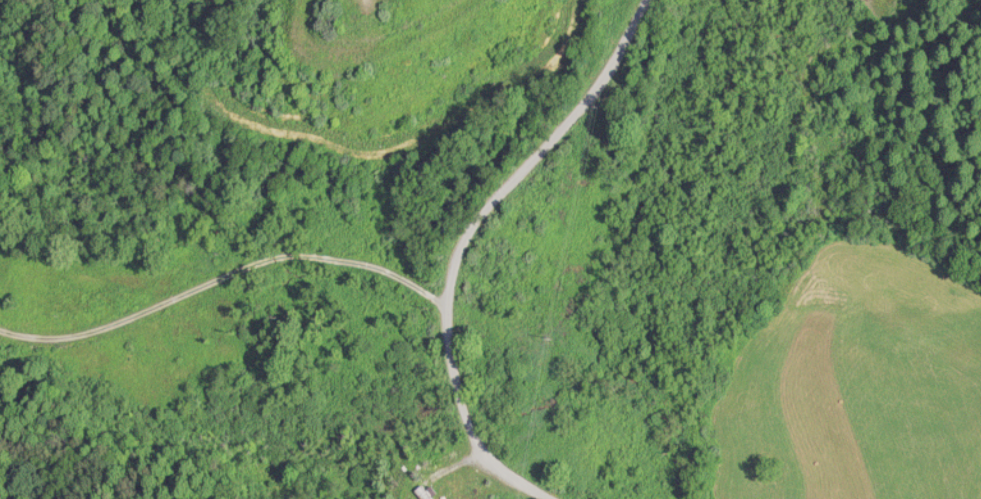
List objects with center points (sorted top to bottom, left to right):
road: (566, 111)
quarry: (410, 185)
road: (460, 374)

